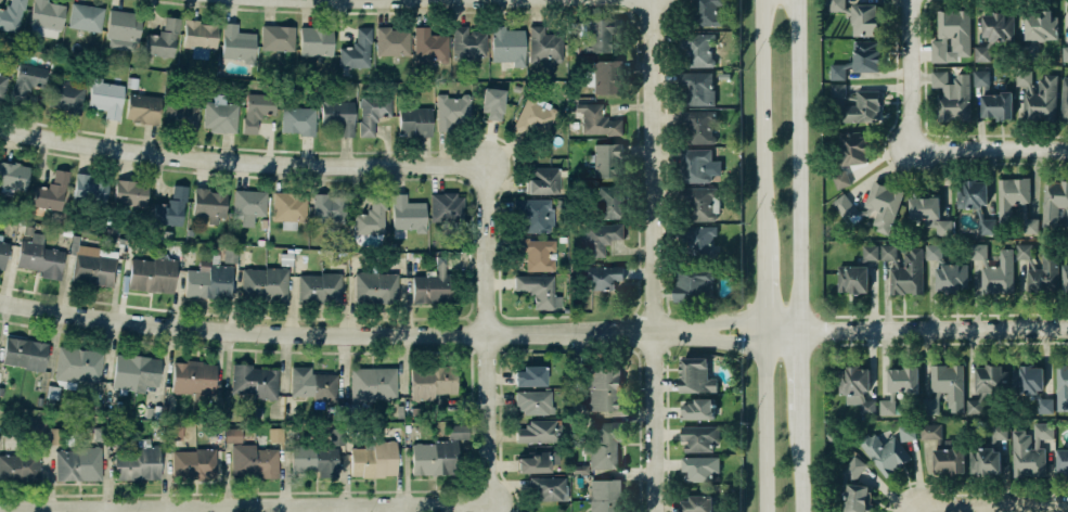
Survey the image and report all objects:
road: (463, 1)
building: (834, 5)
building: (707, 12)
building: (11, 14)
building: (85, 16)
building: (47, 17)
building: (865, 20)
building: (998, 27)
building: (123, 29)
building: (1038, 31)
building: (593, 36)
building: (197, 37)
building: (276, 37)
building: (951, 37)
building: (162, 38)
building: (314, 40)
building: (389, 41)
building: (236, 42)
building: (466, 42)
building: (544, 44)
building: (429, 46)
building: (506, 46)
building: (699, 49)
building: (357, 50)
building: (985, 53)
building: (1065, 53)
building: (866, 55)
road: (634, 59)
building: (0, 69)
road: (909, 71)
building: (837, 72)
building: (605, 77)
building: (980, 78)
building: (26, 80)
building: (2, 86)
building: (697, 88)
building: (952, 95)
building: (1037, 95)
building: (65, 97)
building: (104, 97)
building: (1064, 101)
building: (492, 103)
building: (855, 104)
building: (996, 105)
building: (141, 107)
building: (256, 108)
building: (450, 110)
street lamp: (899, 110)
building: (372, 113)
building: (532, 113)
building: (219, 114)
building: (179, 115)
building: (338, 115)
building: (298, 119)
building: (594, 119)
building: (414, 121)
building: (697, 125)
road: (765, 126)
road: (924, 131)
road: (930, 133)
road: (989, 146)
building: (851, 149)
road: (379, 150)
road: (662, 152)
road: (240, 161)
building: (606, 161)
building: (694, 165)
road: (649, 166)
road: (797, 166)
road: (893, 170)
building: (13, 176)
building: (839, 179)
building: (542, 180)
building: (90, 189)
building: (51, 191)
building: (129, 192)
building: (1053, 201)
building: (608, 202)
building: (697, 202)
building: (207, 203)
building: (1015, 203)
building: (977, 204)
building: (249, 205)
building: (883, 205)
building: (445, 206)
building: (171, 207)
building: (289, 208)
building: (330, 208)
building: (845, 209)
building: (408, 213)
building: (535, 214)
building: (930, 215)
building: (372, 217)
building: (1063, 217)
street lamp: (661, 221)
building: (597, 236)
building: (699, 242)
road: (629, 248)
building: (888, 252)
building: (934, 252)
building: (2, 253)
building: (537, 253)
building: (868, 253)
building: (1025, 253)
building: (231, 255)
building: (38, 256)
building: (94, 265)
road: (636, 270)
building: (994, 270)
building: (151, 273)
building: (908, 273)
building: (1044, 274)
building: (597, 276)
building: (951, 278)
building: (1065, 278)
building: (207, 280)
building: (851, 280)
road: (625, 281)
building: (691, 283)
building: (262, 284)
building: (430, 284)
building: (318, 286)
building: (375, 286)
road: (767, 287)
building: (539, 290)
road: (661, 290)
road: (950, 313)
road: (648, 315)
road: (0, 319)
road: (782, 323)
road: (709, 324)
road: (324, 331)
road: (664, 331)
road: (932, 331)
road: (636, 333)
road: (485, 335)
road: (709, 338)
road: (782, 338)
road: (953, 342)
road: (651, 350)
road: (666, 350)
road: (636, 353)
building: (25, 354)
building: (78, 364)
road: (665, 369)
road: (799, 370)
building: (134, 372)
building: (695, 374)
building: (193, 375)
building: (529, 376)
building: (254, 379)
building: (989, 379)
building: (902, 380)
building: (1026, 380)
building: (851, 381)
building: (371, 382)
building: (432, 382)
building: (313, 384)
building: (947, 384)
building: (603, 385)
road: (665, 385)
building: (1061, 387)
building: (52, 392)
road: (638, 395)
building: (535, 402)
building: (1044, 405)
building: (928, 406)
building: (973, 406)
building: (697, 407)
building: (866, 407)
building: (886, 407)
road: (666, 413)
road: (625, 415)
road: (767, 418)
road: (653, 422)
building: (37, 426)
building: (458, 431)
building: (537, 432)
road: (666, 432)
building: (906, 432)
building: (1042, 433)
building: (100, 434)
building: (275, 434)
building: (54, 435)
building: (233, 435)
road: (666, 435)
building: (831, 435)
building: (336, 436)
building: (699, 437)
building: (604, 445)
building: (944, 450)
building: (885, 452)
building: (987, 453)
building: (1027, 457)
building: (313, 458)
building: (432, 458)
building: (373, 459)
building: (254, 460)
road: (801, 460)
building: (1061, 460)
building: (538, 461)
building: (138, 462)
building: (78, 463)
building: (194, 463)
building: (21, 464)
road: (666, 465)
building: (699, 469)
road: (623, 472)
building: (548, 487)
building: (854, 487)
road: (29, 495)
building: (605, 495)
road: (967, 495)
street lamp: (966, 497)
building: (697, 503)
road: (1009, 503)
road: (931, 505)
road: (666, 507)
road: (243, 508)

